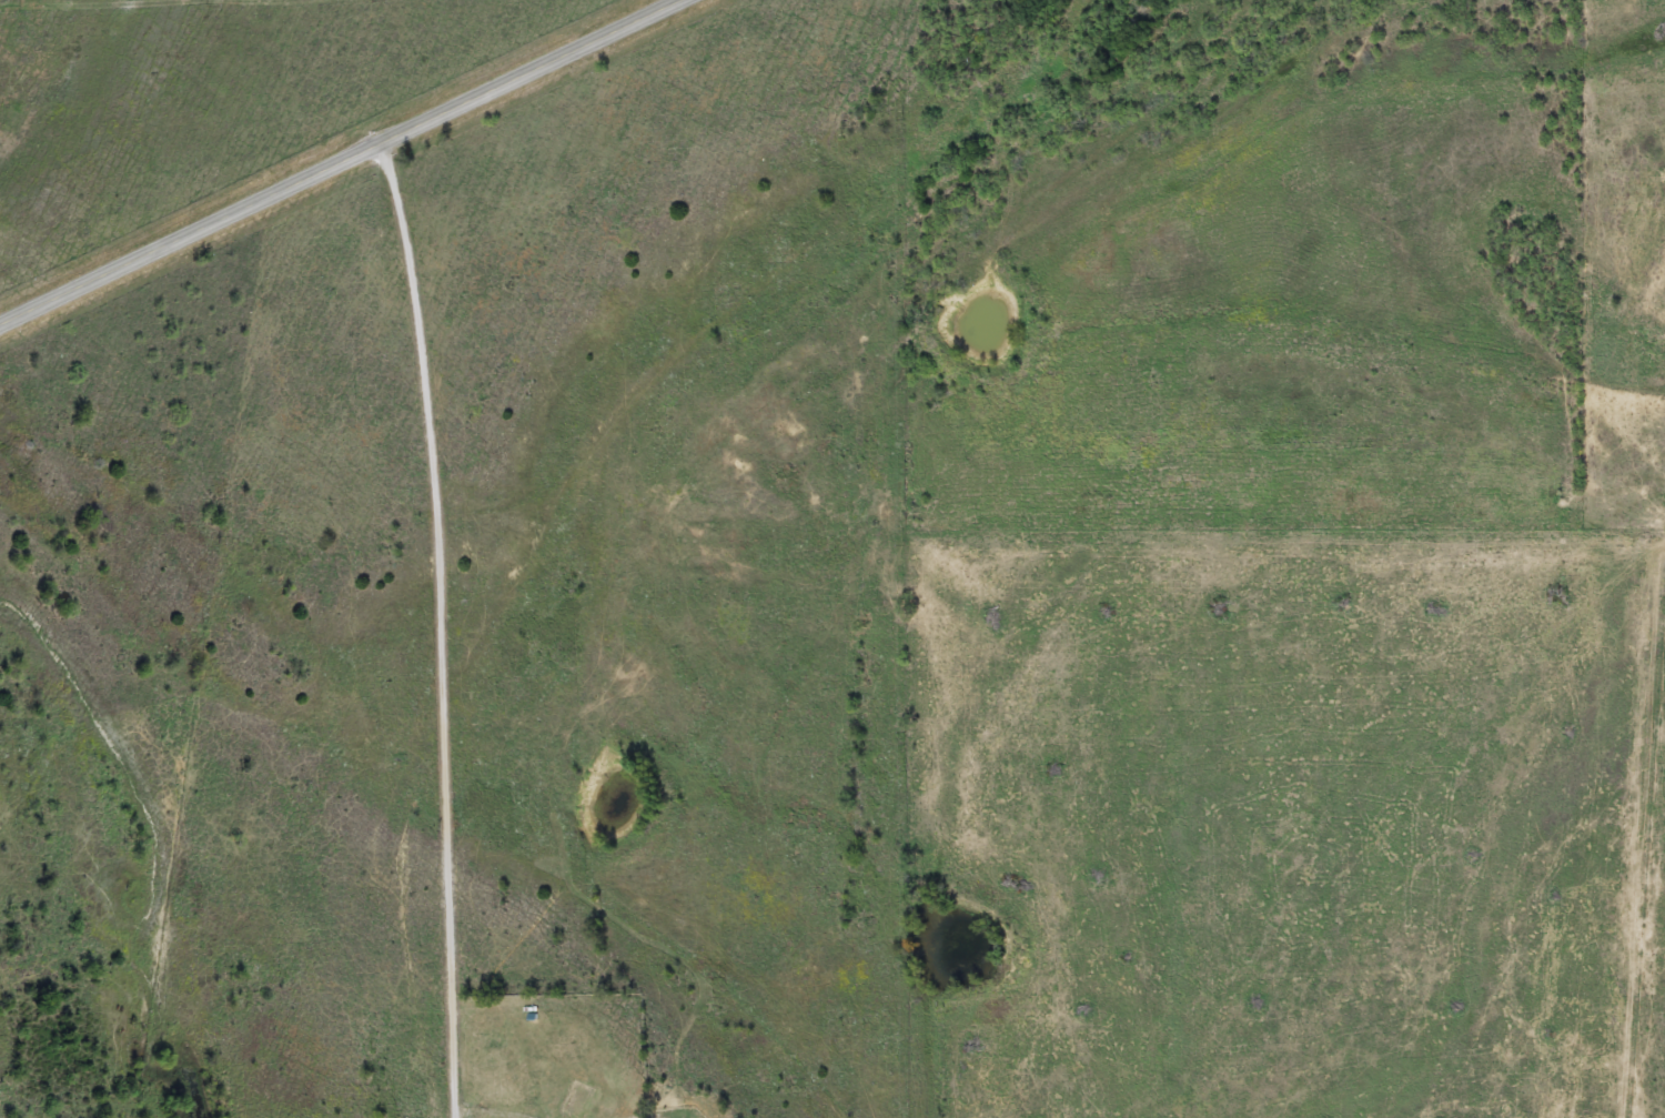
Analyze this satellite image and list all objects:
road: (343, 163)
road: (443, 628)

